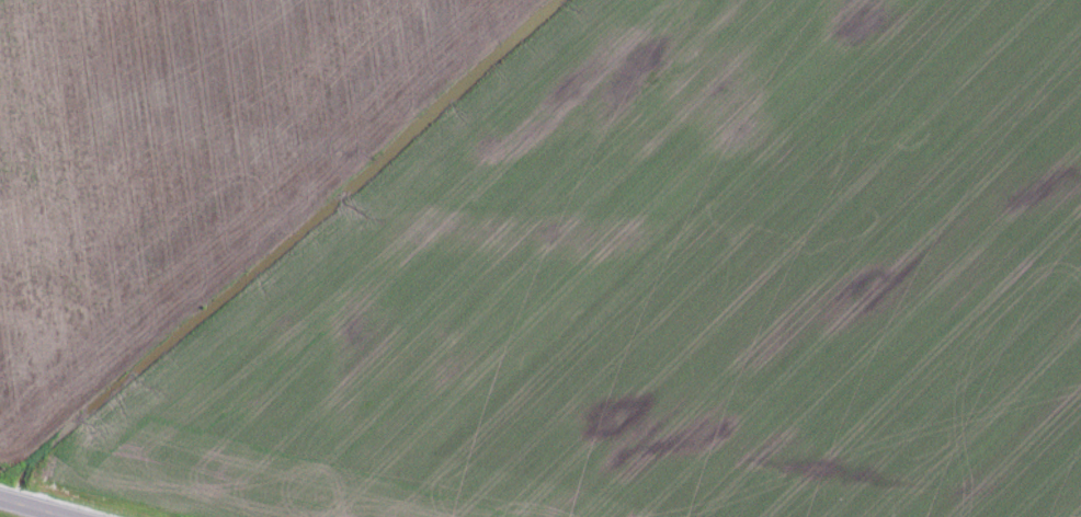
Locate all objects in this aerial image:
road: (36, 506)

